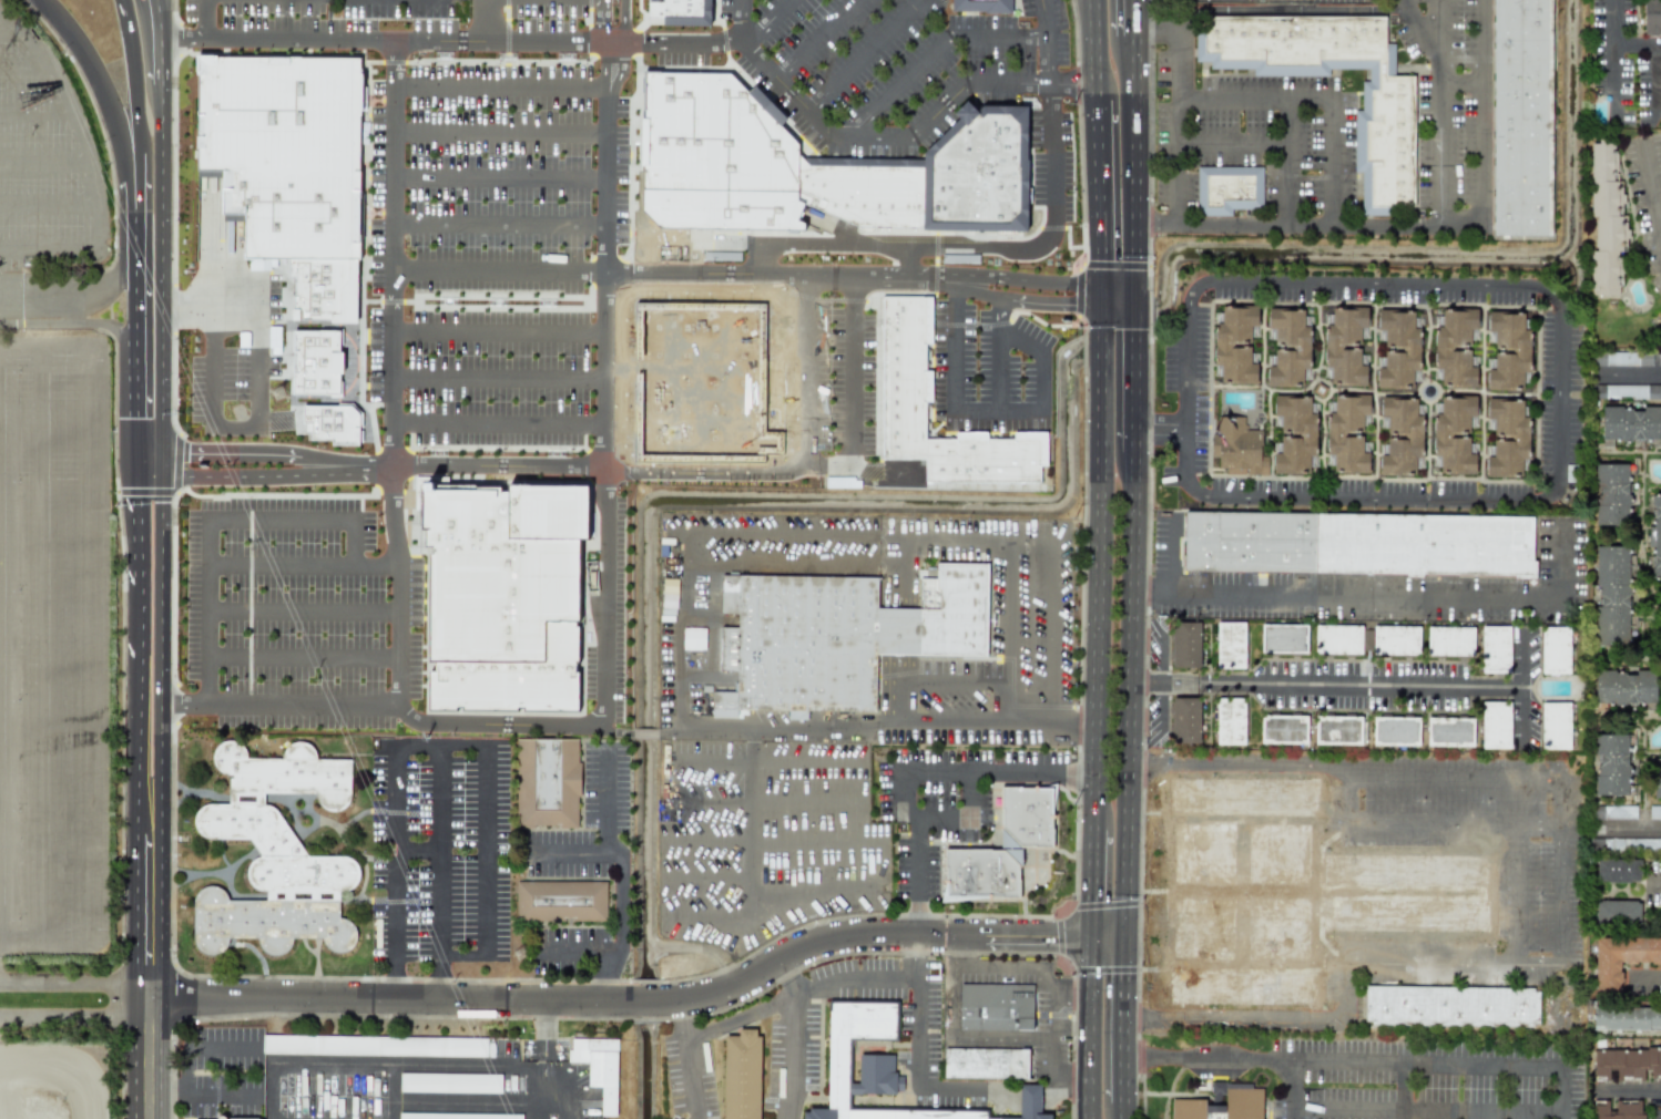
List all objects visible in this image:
building: (981, 6)
road: (1291, 9)
building: (675, 11)
road: (156, 16)
road: (163, 17)
road: (205, 17)
building: (1651, 17)
road: (126, 18)
road: (1137, 18)
road: (765, 21)
road: (625, 28)
road: (597, 29)
road: (7, 30)
road: (1439, 31)
road: (255, 34)
road: (439, 38)
road: (814, 38)
road: (543, 39)
road: (684, 42)
road: (1614, 43)
road: (1096, 49)
road: (933, 51)
road: (862, 53)
road: (162, 59)
road: (388, 62)
road: (24, 72)
road: (1654, 73)
road: (1614, 74)
road: (1010, 83)
road: (1463, 83)
road: (1074, 84)
road: (409, 86)
road: (1233, 92)
road: (135, 93)
road: (1315, 94)
road: (1051, 110)
road: (110, 114)
road: (34, 115)
building: (1521, 117)
road: (74, 126)
road: (826, 129)
road: (499, 131)
building: (1384, 138)
road: (609, 160)
road: (43, 163)
building: (291, 164)
road: (1137, 165)
building: (821, 167)
road: (499, 177)
road: (1286, 181)
road: (1652, 184)
building: (1227, 186)
road: (1100, 196)
road: (136, 199)
road: (47, 207)
building: (1606, 220)
road: (500, 222)
road: (1386, 223)
road: (1457, 224)
road: (1051, 230)
road: (905, 238)
road: (44, 249)
road: (137, 255)
road: (757, 256)
road: (906, 258)
road: (208, 266)
road: (163, 267)
road: (500, 269)
road: (772, 275)
road: (1012, 278)
road: (949, 285)
road: (72, 294)
road: (979, 294)
road: (1093, 294)
road: (1120, 296)
road: (137, 297)
road: (1045, 301)
road: (69, 322)
road: (1007, 326)
road: (499, 329)
building: (274, 339)
parking lot: (986, 342)
road: (391, 348)
road: (605, 350)
road: (1001, 353)
road: (1189, 357)
building: (1629, 358)
building: (315, 359)
road: (798, 367)
building: (904, 369)
building: (700, 373)
road: (1138, 373)
road: (1632, 373)
road: (498, 374)
building: (1375, 389)
road: (139, 391)
building: (1628, 391)
power tower: (278, 393)
road: (991, 410)
road: (256, 418)
building: (333, 421)
building: (1630, 423)
road: (1560, 425)
road: (1163, 428)
road: (498, 429)
road: (607, 445)
road: (390, 446)
road: (152, 451)
road: (245, 453)
road: (821, 459)
road: (574, 461)
road: (164, 464)
road: (141, 465)
road: (246, 478)
road: (152, 479)
building: (1611, 495)
road: (210, 517)
road: (691, 534)
building: (1657, 534)
road: (1041, 538)
building: (1358, 544)
road: (1173, 553)
road: (300, 562)
road: (1099, 562)
road: (793, 564)
road: (398, 587)
building: (512, 592)
road: (613, 595)
building: (1612, 595)
road: (1379, 598)
theme park: (49, 602)
road: (303, 609)
road: (1009, 610)
building: (835, 637)
building: (693, 638)
building: (1284, 638)
building: (1337, 639)
building: (1396, 640)
road: (49, 641)
road: (86, 641)
building: (1450, 641)
building: (1185, 645)
building: (1231, 645)
building: (1495, 649)
building: (1555, 650)
road: (137, 653)
road: (160, 653)
road: (302, 655)
road: (1522, 660)
road: (971, 681)
road: (1353, 686)
building: (1624, 686)
road: (1132, 694)
road: (897, 702)
road: (398, 712)
building: (1185, 720)
building: (1230, 721)
building: (1496, 725)
building: (1556, 726)
road: (880, 728)
building: (1284, 729)
building: (1338, 730)
building: (1395, 731)
building: (1449, 731)
road: (648, 733)
road: (764, 757)
road: (1240, 763)
building: (1611, 764)
road: (975, 771)
building: (1657, 780)
road: (757, 800)
building: (1614, 812)
road: (966, 818)
road: (1433, 822)
road: (746, 823)
road: (1630, 829)
road: (486, 831)
road: (757, 842)
building: (1002, 843)
building: (1631, 843)
road: (1558, 846)
road: (420, 851)
road: (440, 851)
road: (567, 851)
road: (400, 853)
building: (278, 858)
building: (1618, 871)
road: (624, 872)
road: (706, 876)
road: (918, 876)
road: (1654, 880)
road: (1094, 882)
building: (1405, 891)
road: (1517, 893)
road: (776, 899)
building: (561, 901)
building: (1618, 911)
road: (712, 914)
traffic signals: (1093, 937)
road: (1109, 937)
traffic signals: (1125, 937)
road: (580, 948)
power tower: (521, 955)
building: (1621, 959)
road: (1027, 967)
road: (147, 972)
road: (1652, 976)
road: (439, 977)
road: (397, 979)
road: (796, 990)
road: (1348, 994)
road: (74, 996)
road: (628, 1000)
building: (997, 1006)
building: (1451, 1006)
building: (1626, 1018)
road: (1124, 1019)
road: (1089, 1028)
road: (954, 1031)
road: (793, 1037)
building: (375, 1046)
road: (201, 1047)
road: (917, 1047)
road: (1051, 1047)
road: (1207, 1058)
road: (687, 1059)
road: (65, 1060)
road: (376, 1062)
road: (540, 1062)
road: (1426, 1062)
building: (985, 1064)
building: (1627, 1065)
building: (599, 1068)
building: (880, 1068)
building: (740, 1075)
building: (446, 1082)
road: (1290, 1089)
road: (1630, 1089)
road: (1400, 1090)
road: (202, 1096)
road: (468, 1103)
building: (1222, 1103)
road: (1425, 1108)
road: (1123, 1110)
building: (1619, 1110)
building: (452, 1116)
building: (238, 1118)

